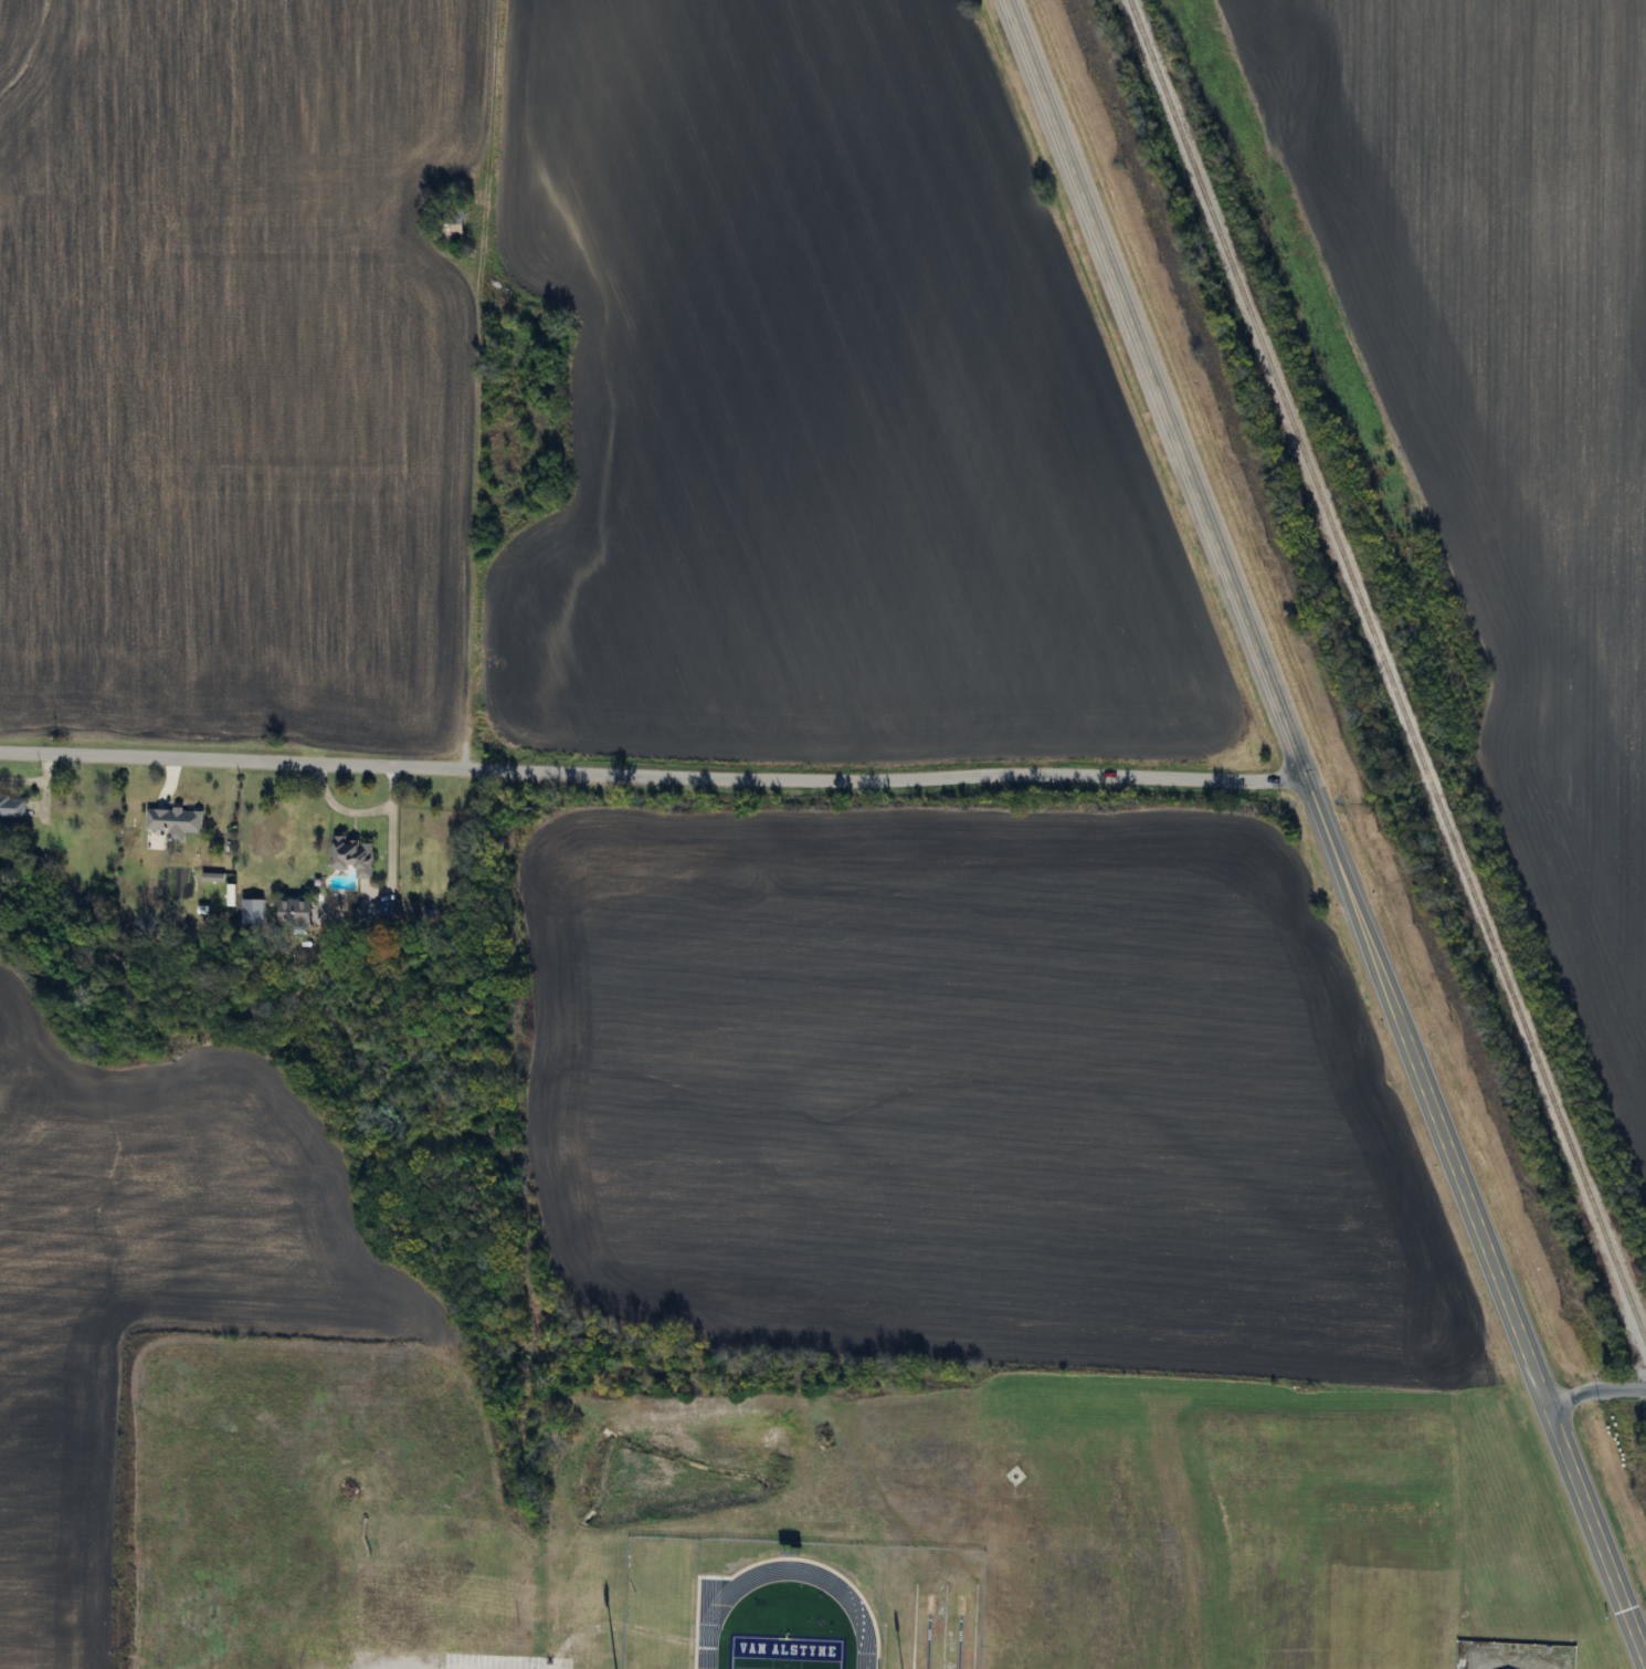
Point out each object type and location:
road: (468, 539)
railway: (1386, 673)
road: (1272, 694)
road: (652, 776)
road: (358, 811)
building: (350, 857)
building: (288, 912)
road: (1593, 1387)
road: (1593, 1526)
park: (783, 1648)
road: (1513, 1662)

